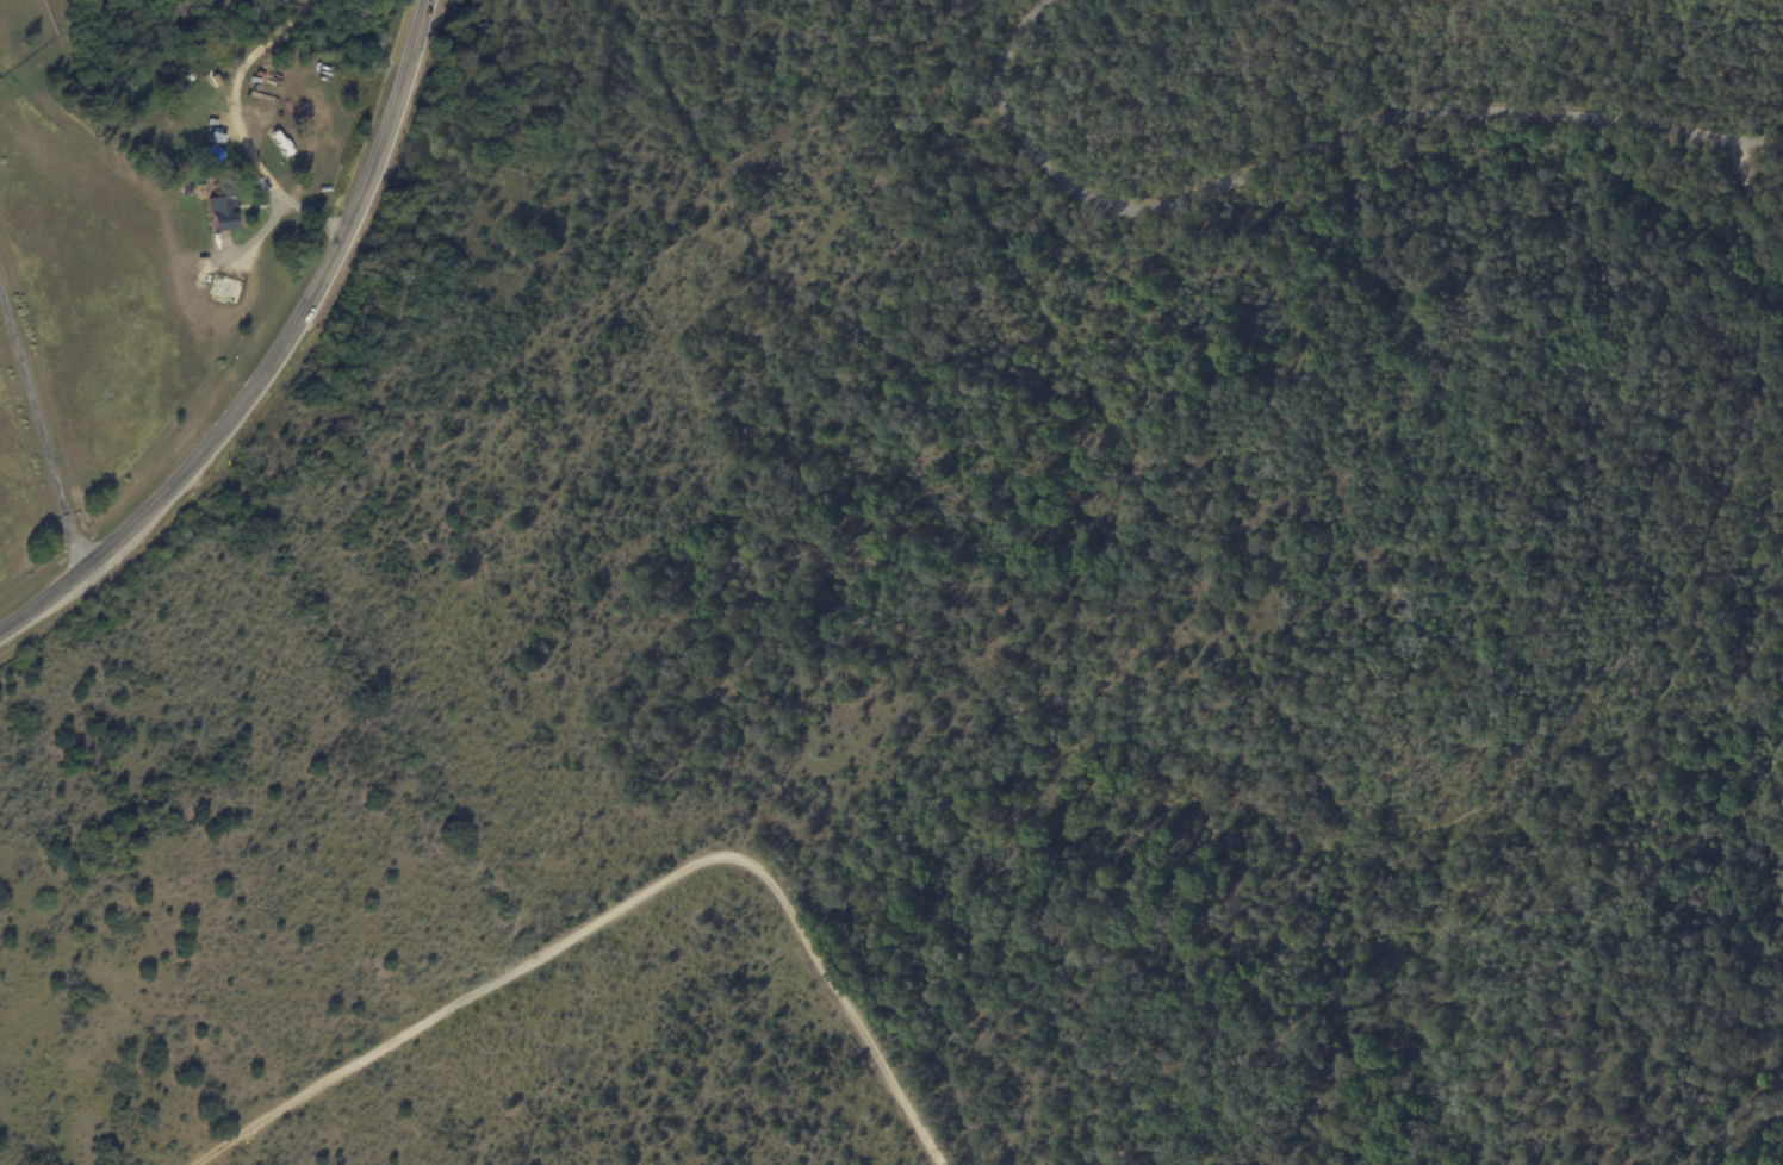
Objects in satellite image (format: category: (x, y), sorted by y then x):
road: (232, 127)
road: (1310, 144)
building: (222, 212)
road: (273, 357)
park: (1431, 401)
road: (39, 430)
road: (626, 903)

